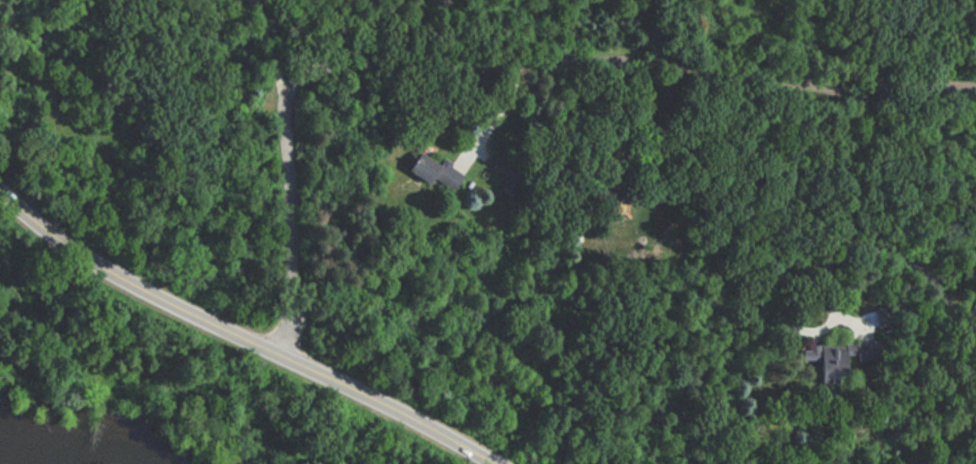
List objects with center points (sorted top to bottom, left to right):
road: (275, 48)
road: (499, 65)
road: (500, 110)
building: (420, 168)
building: (445, 181)
road: (855, 242)
road: (819, 333)
road: (245, 336)
park: (159, 383)
river: (68, 439)

